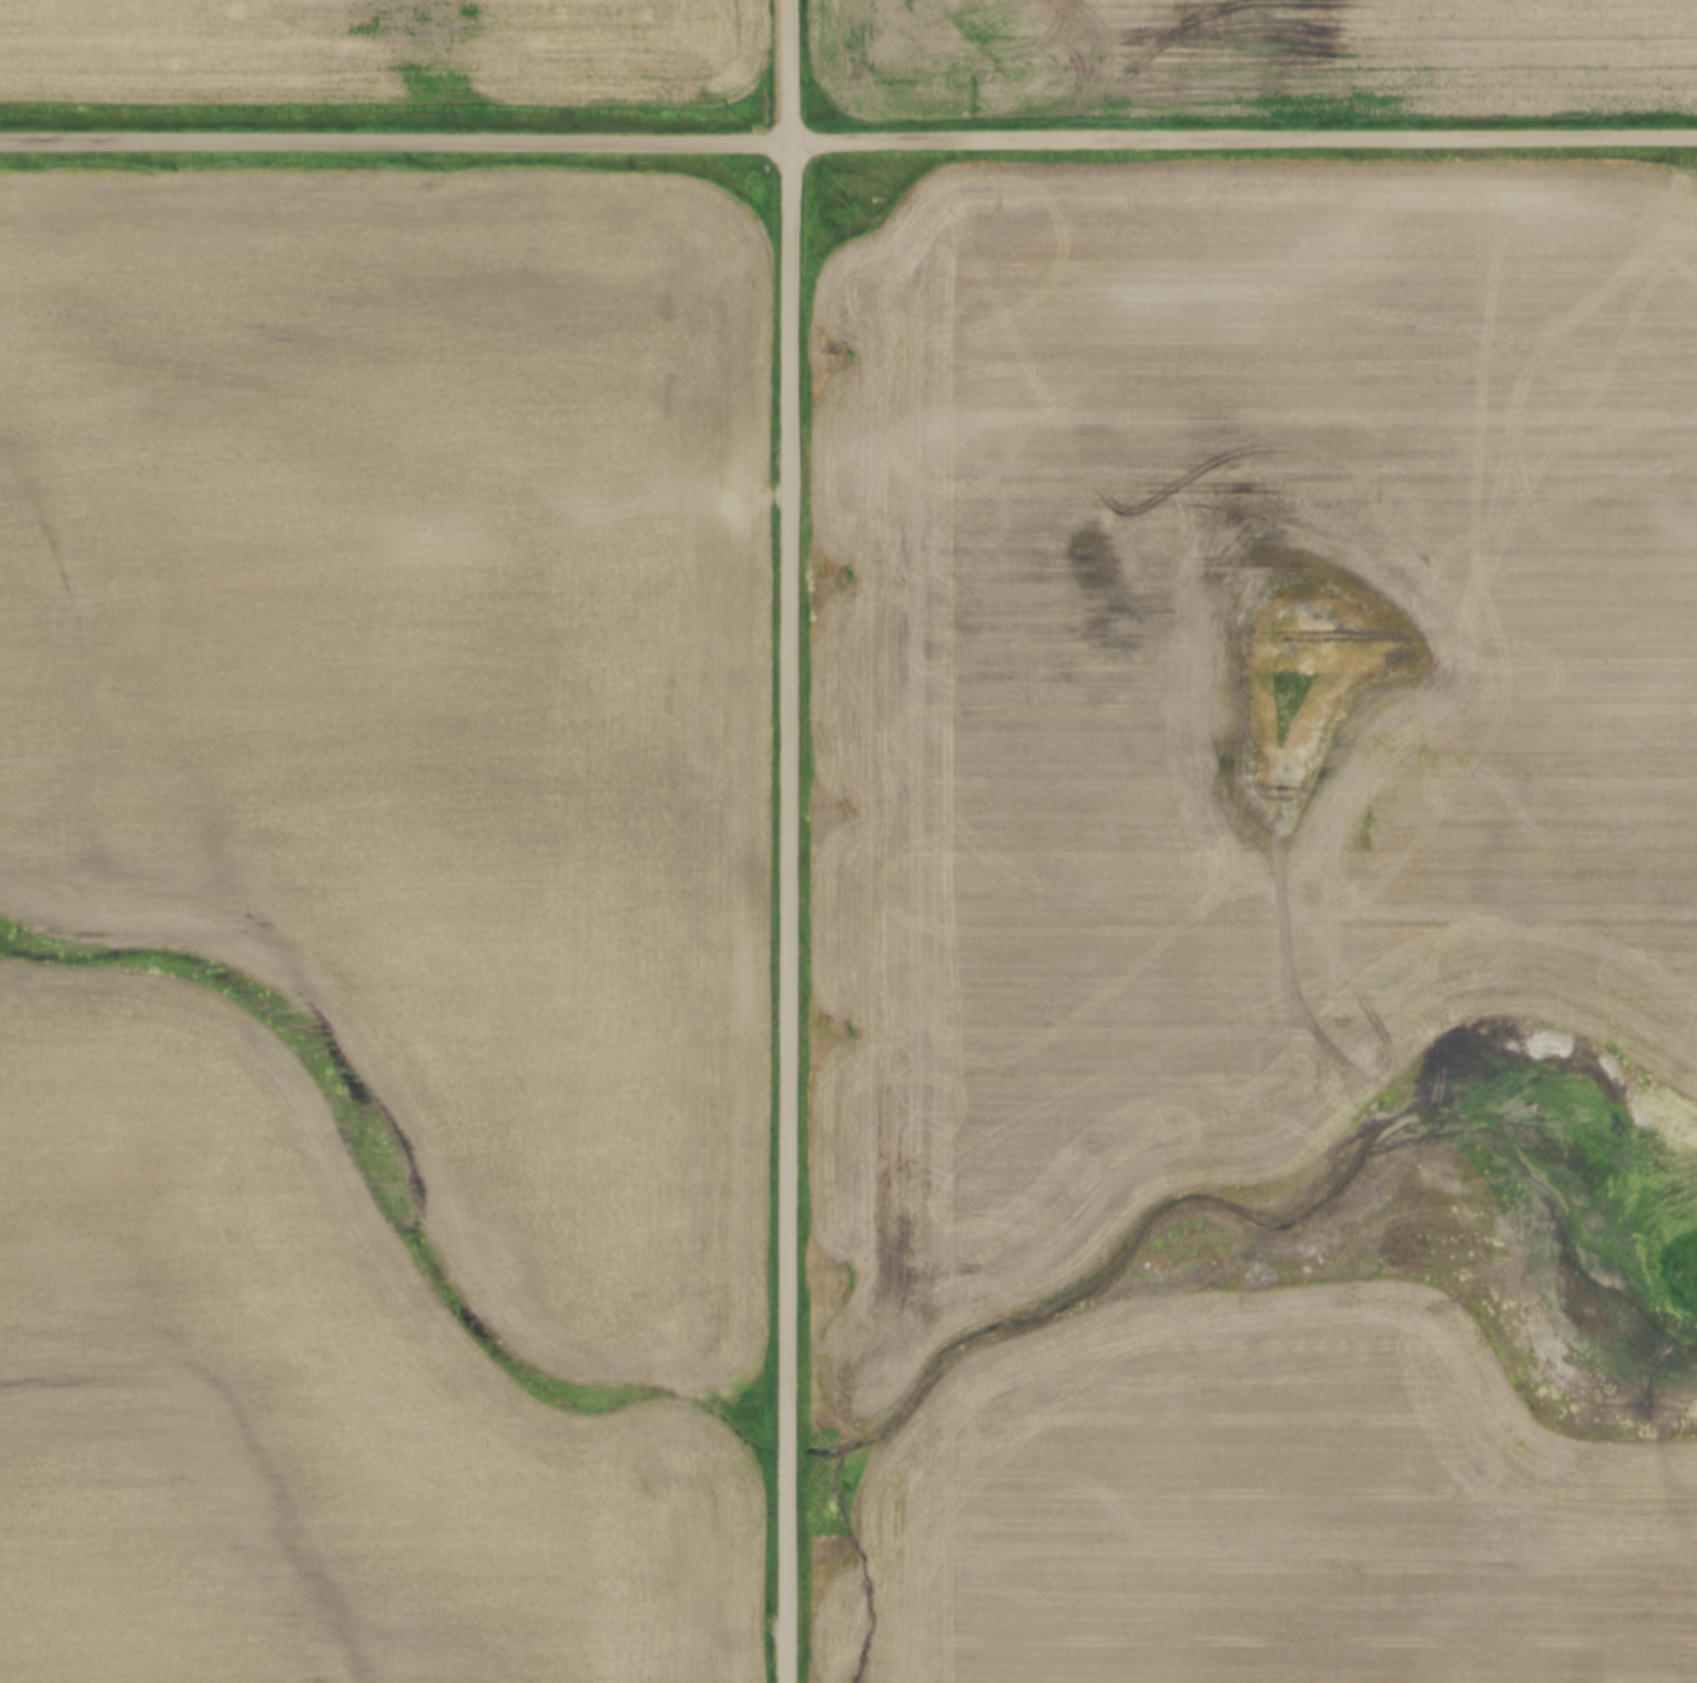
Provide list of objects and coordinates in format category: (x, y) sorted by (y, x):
road: (848, 143)
road: (792, 841)

